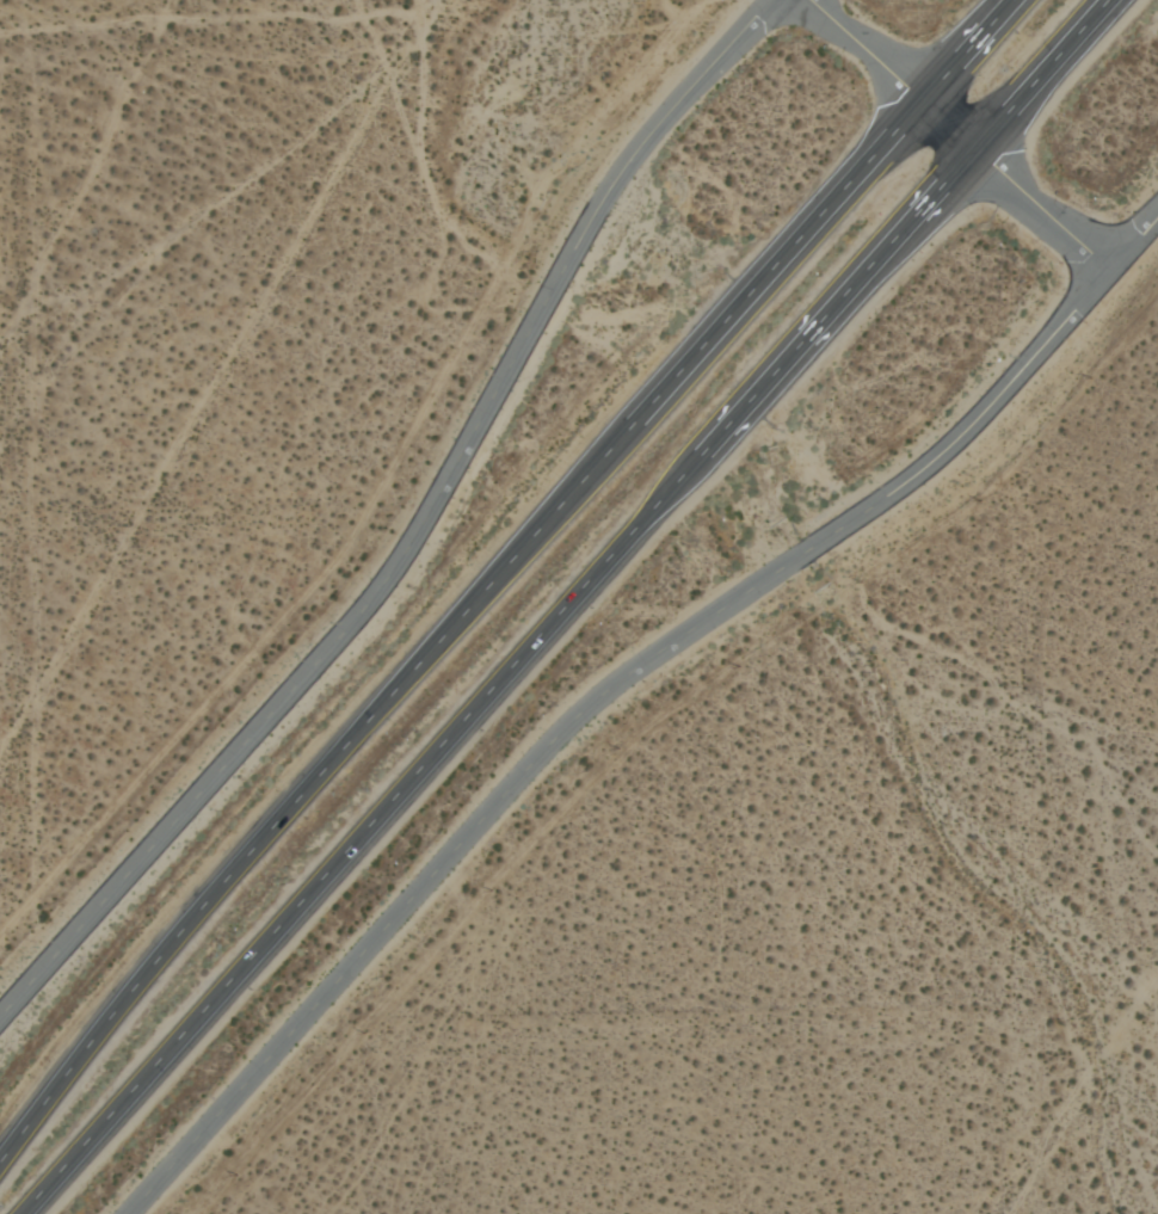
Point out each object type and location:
road: (1154, 16)
road: (269, 19)
road: (686, 95)
road: (961, 136)
road: (604, 205)
road: (985, 417)
road: (498, 572)
road: (768, 580)
road: (572, 606)
road: (334, 641)
road: (426, 881)

